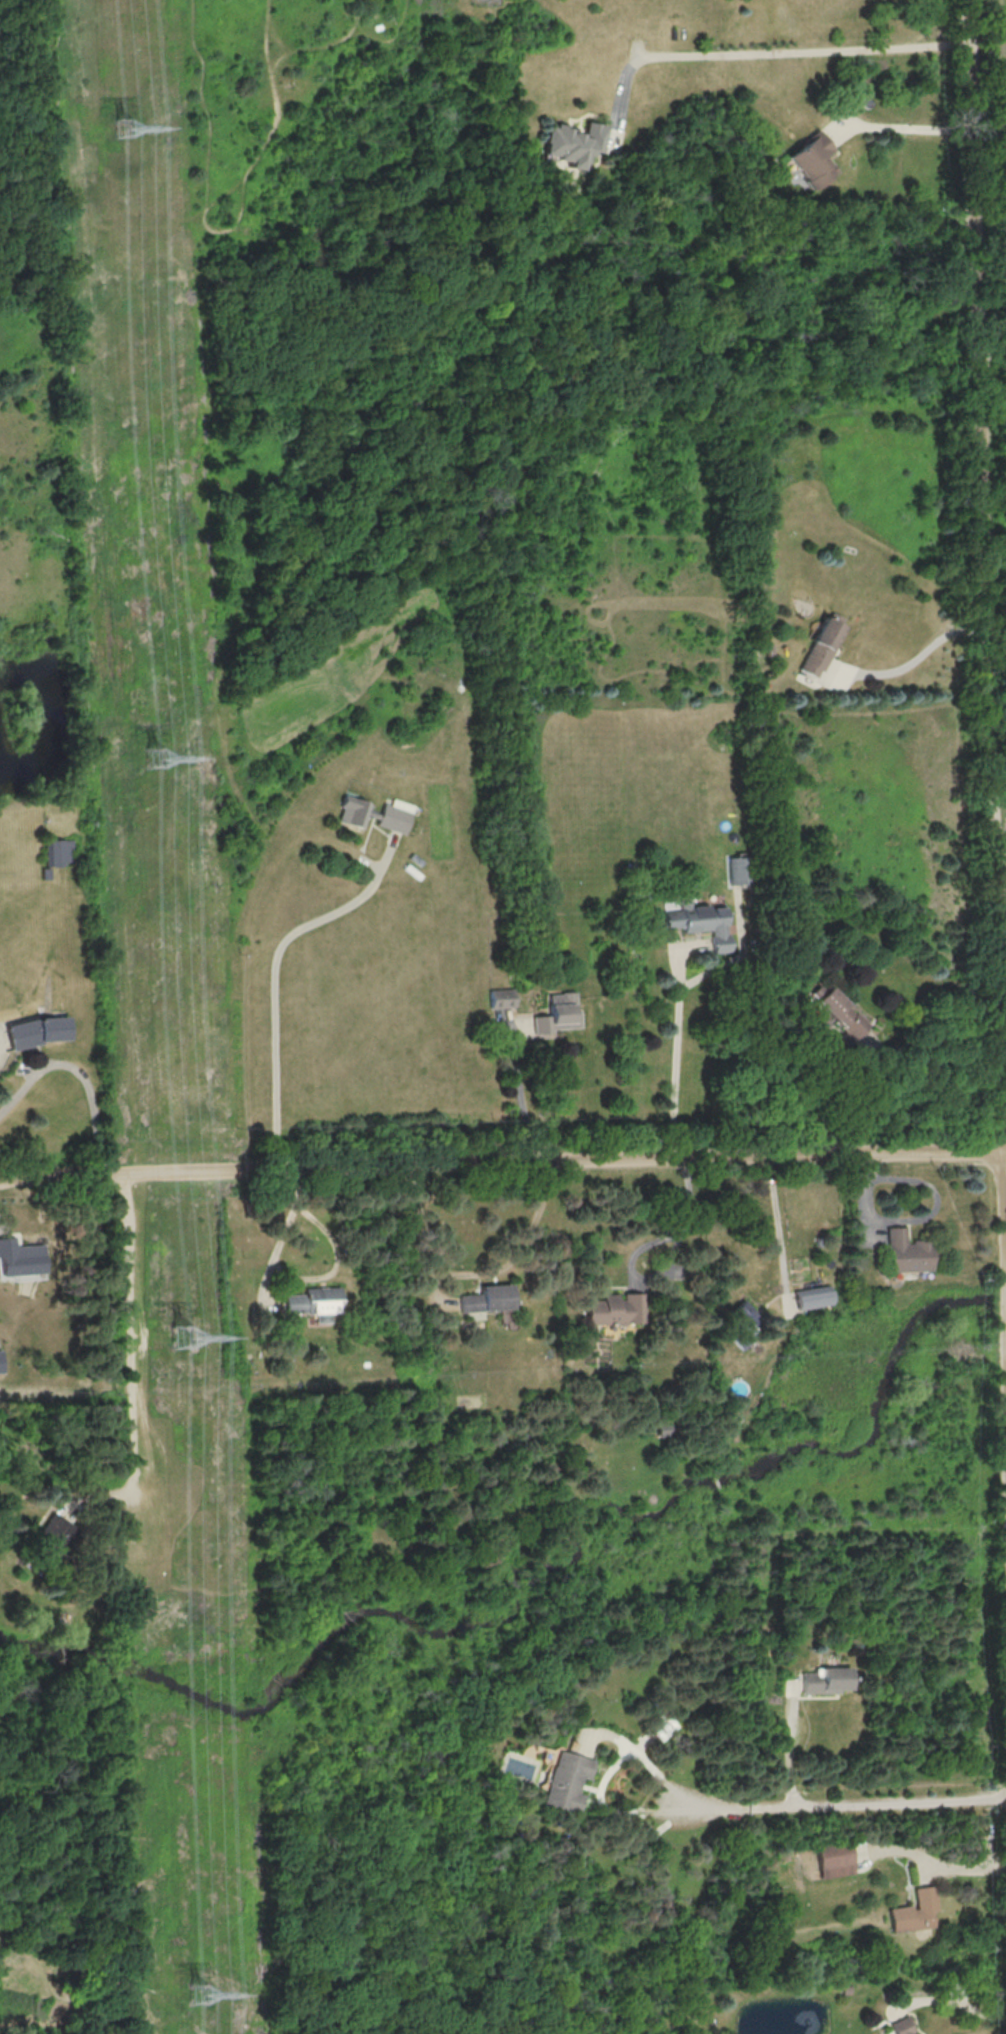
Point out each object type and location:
road: (773, 49)
power tower: (128, 132)
road: (901, 132)
building: (571, 143)
building: (810, 159)
road: (987, 642)
building: (822, 646)
road: (915, 662)
power tower: (159, 758)
building: (376, 813)
building: (60, 851)
building: (46, 873)
road: (1000, 877)
road: (1000, 913)
building: (699, 918)
road: (280, 977)
building: (501, 998)
building: (556, 1014)
building: (838, 1015)
building: (37, 1031)
road: (933, 1044)
road: (675, 1054)
road: (81, 1074)
road: (520, 1101)
road: (502, 1166)
road: (773, 1220)
building: (905, 1252)
building: (21, 1259)
road: (473, 1267)
road: (664, 1267)
building: (809, 1297)
building: (487, 1298)
building: (315, 1302)
building: (616, 1309)
building: (740, 1324)
road: (133, 1334)
power tower: (182, 1339)
building: (1, 1361)
building: (825, 1680)
building: (661, 1726)
road: (791, 1753)
building: (566, 1781)
road: (834, 1805)
building: (835, 1859)
building: (915, 1911)
power tower: (199, 1994)
road: (956, 2005)
building: (901, 2026)
building: (915, 2033)

